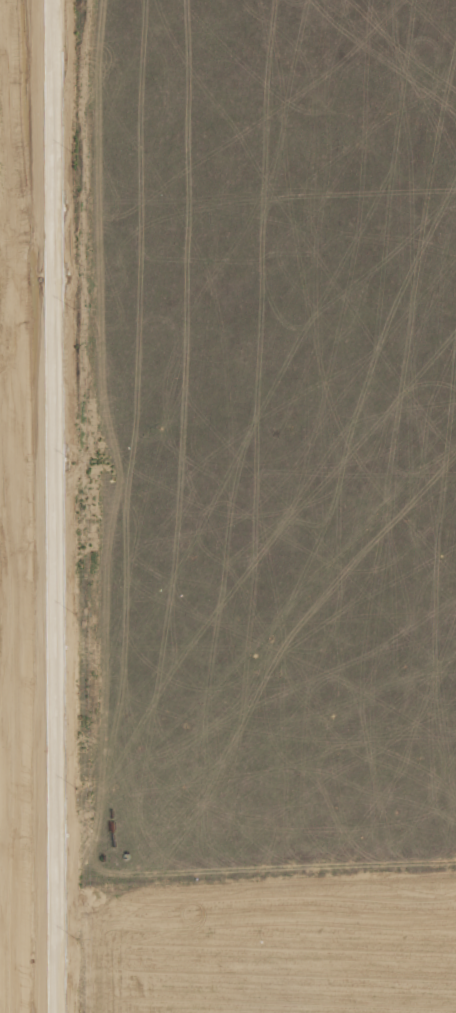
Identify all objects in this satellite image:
road: (56, 506)

